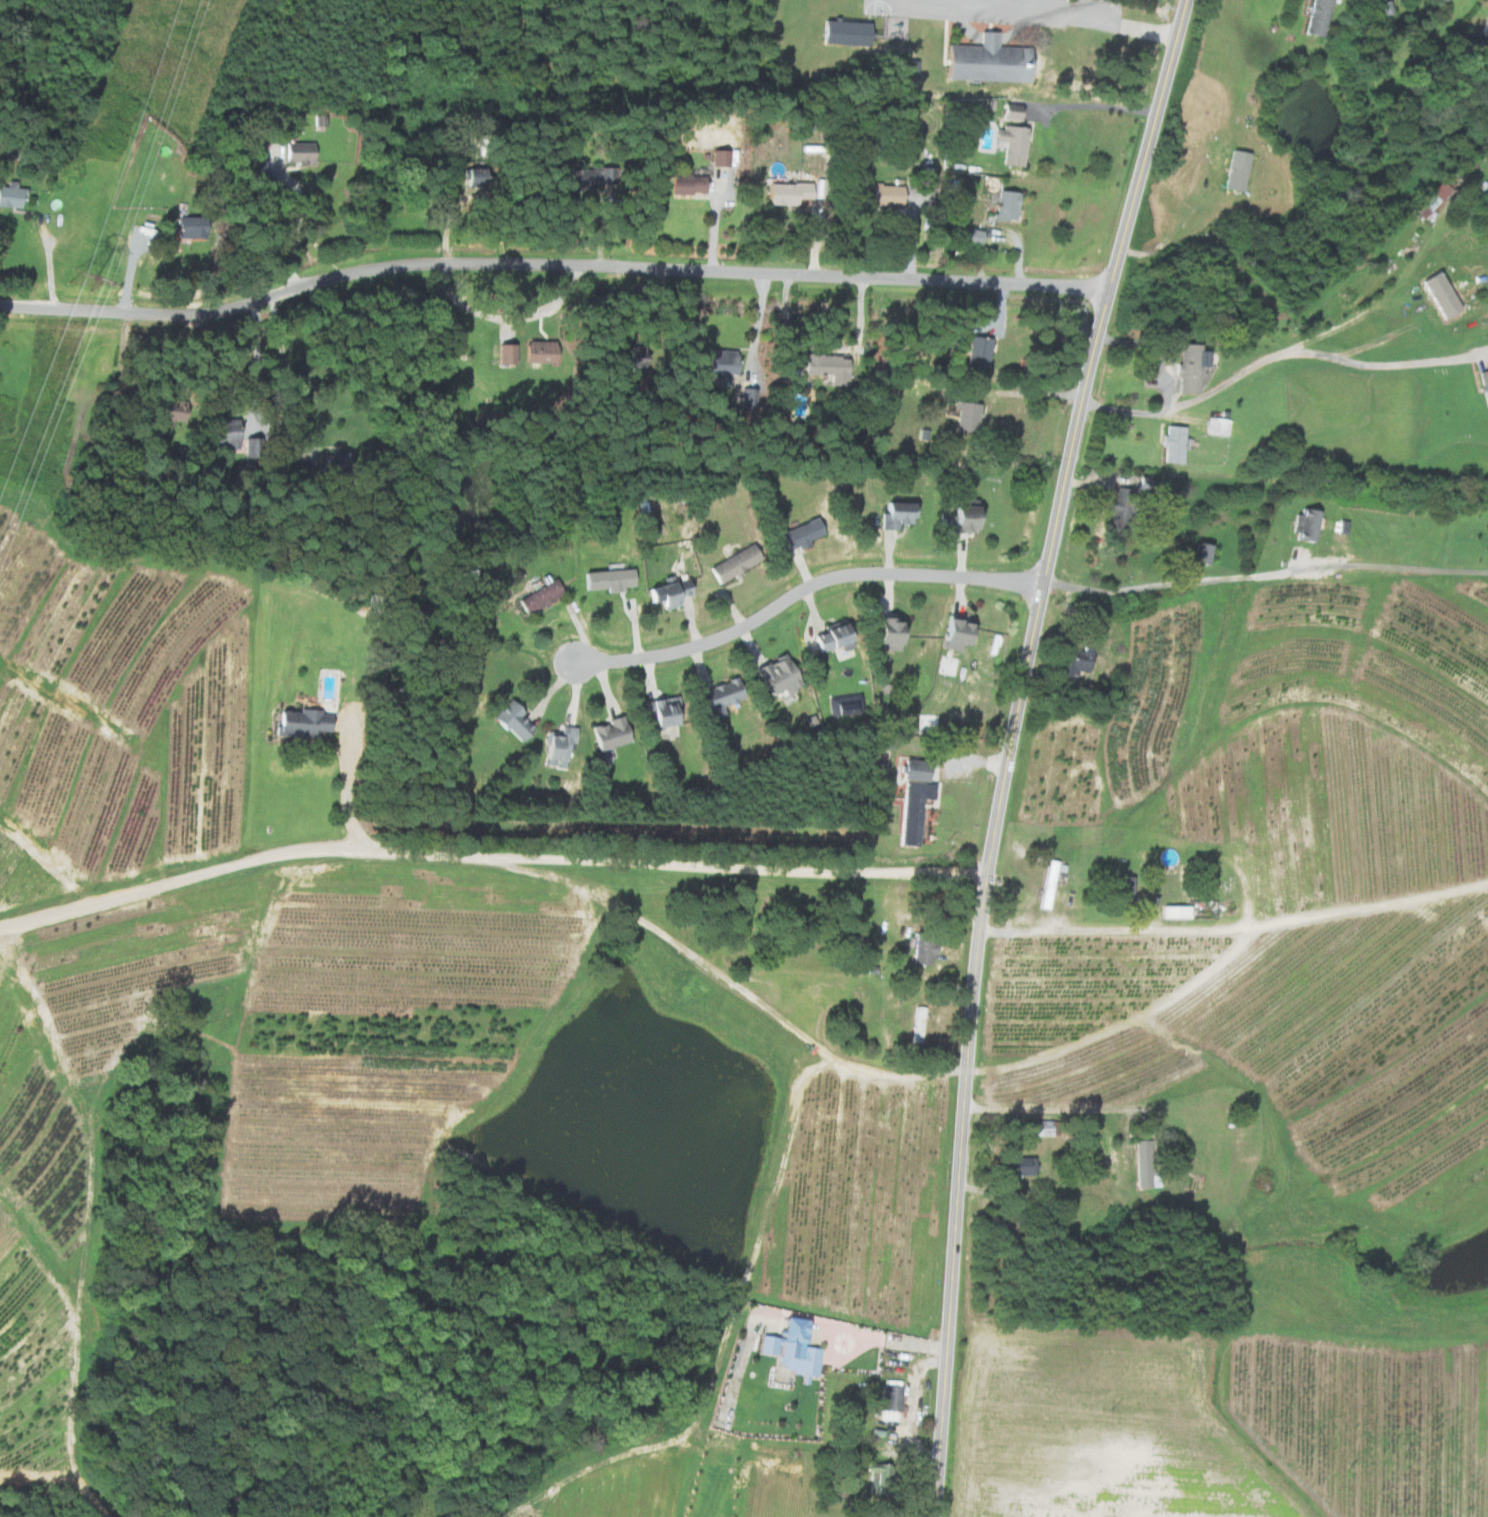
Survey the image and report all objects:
building: (1436, 0)
road: (1028, 13)
building: (1317, 17)
building: (1483, 28)
building: (984, 61)
building: (909, 69)
road: (1095, 107)
building: (1010, 144)
building: (298, 152)
building: (714, 160)
building: (576, 180)
building: (785, 193)
building: (11, 195)
building: (884, 196)
building: (1003, 206)
road: (298, 218)
building: (185, 227)
building: (972, 236)
road: (1167, 240)
road: (550, 266)
power tower: (81, 279)
road: (1389, 289)
building: (1438, 295)
road: (507, 316)
road: (1411, 335)
building: (976, 352)
building: (535, 353)
road: (1275, 354)
building: (504, 355)
road: (258, 362)
building: (720, 362)
building: (1188, 367)
building: (825, 368)
road: (289, 372)
building: (1483, 387)
road: (1032, 392)
building: (165, 410)
building: (965, 418)
building: (1215, 426)
building: (222, 431)
building: (1172, 444)
building: (1144, 484)
building: (1117, 510)
building: (894, 515)
building: (960, 519)
building: (1304, 526)
building: (799, 534)
building: (1200, 554)
building: (731, 565)
road: (1263, 574)
building: (607, 580)
road: (800, 587)
building: (666, 594)
building: (537, 598)
building: (885, 633)
building: (951, 635)
building: (829, 638)
building: (1072, 663)
building: (775, 676)
building: (716, 699)
building: (658, 713)
building: (510, 721)
building: (299, 724)
building: (608, 733)
building: (557, 744)
road: (1008, 750)
building: (913, 771)
road: (345, 798)
building: (911, 812)
road: (488, 854)
park: (1213, 876)
building: (1047, 885)
building: (1173, 912)
road: (1235, 922)
building: (921, 950)
road: (1044, 1111)
building: (1018, 1167)
road: (888, 1338)
building: (789, 1347)
building: (892, 1397)
road: (911, 1407)
building: (878, 1432)

